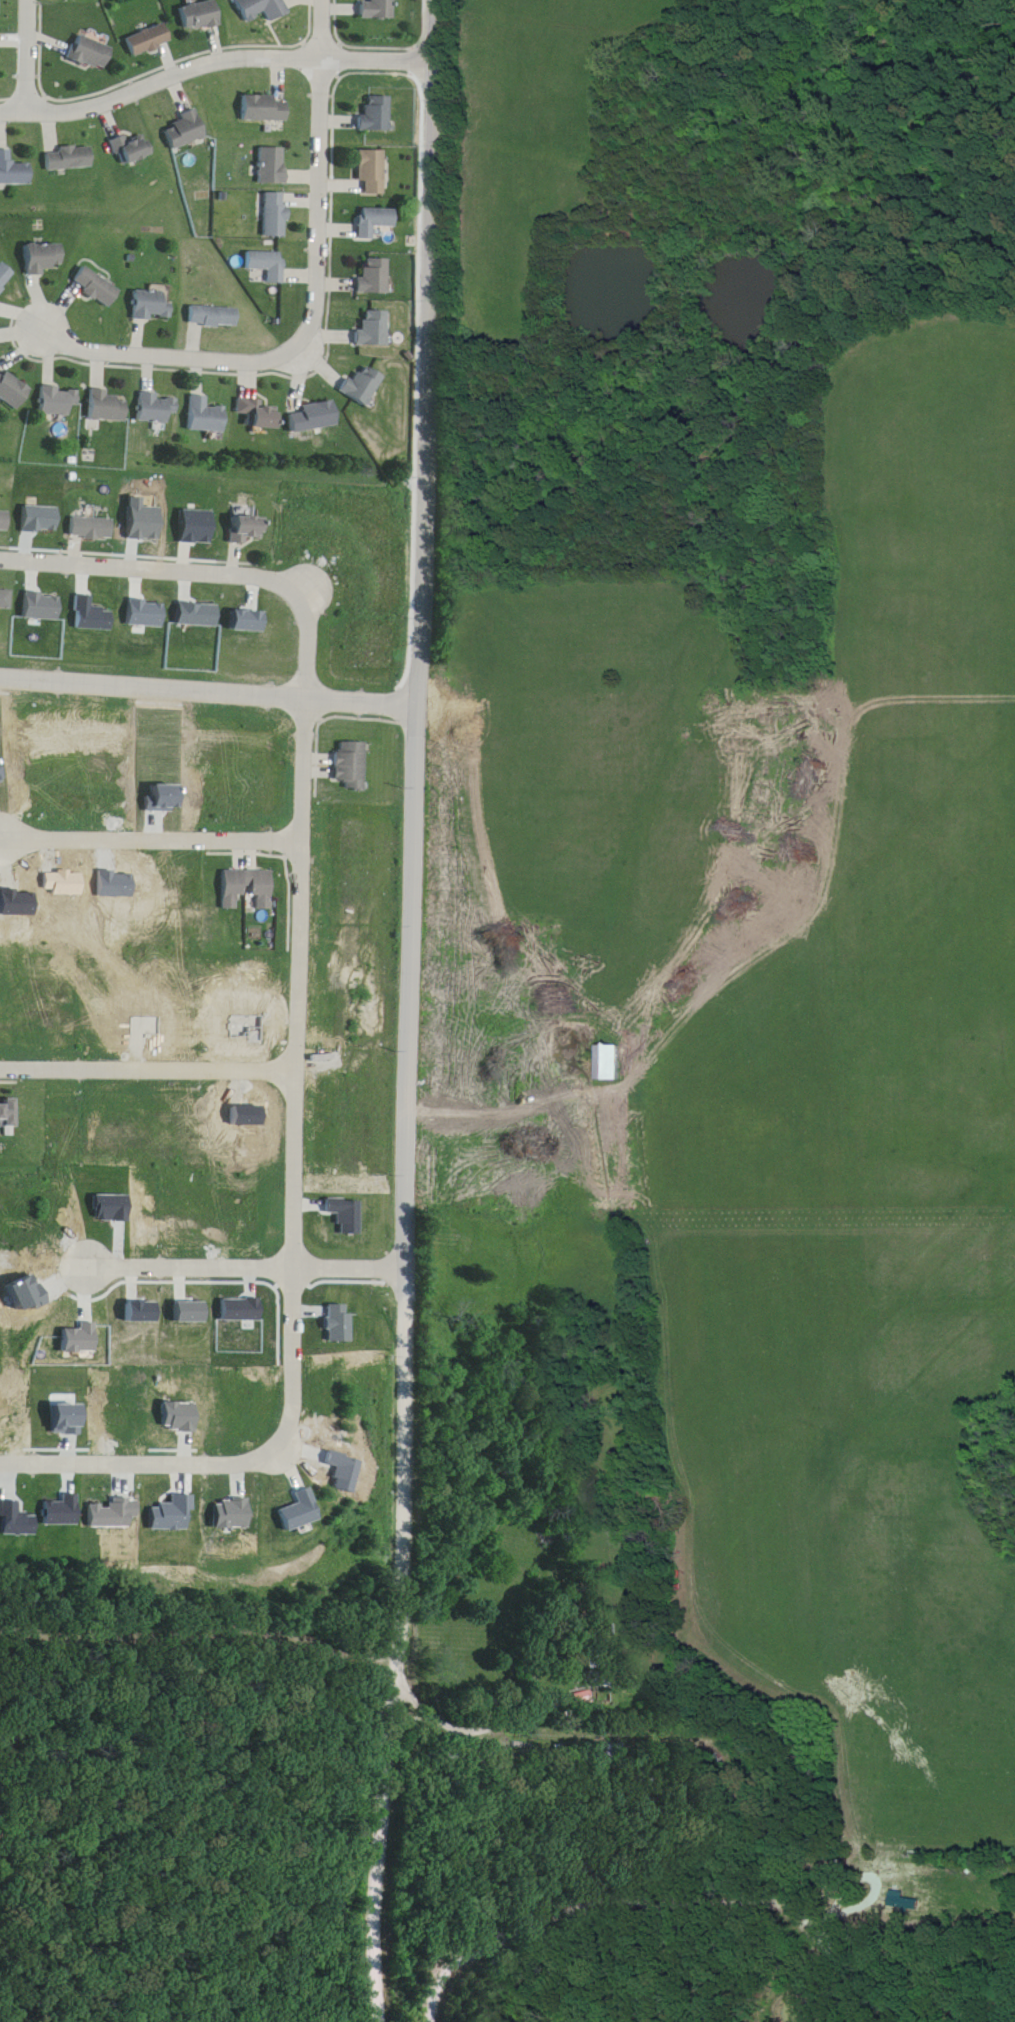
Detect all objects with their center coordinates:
building: (261, 9)
building: (378, 9)
building: (0, 11)
building: (200, 15)
building: (149, 40)
road: (29, 49)
building: (91, 52)
road: (213, 53)
building: (262, 108)
building: (375, 114)
building: (187, 130)
building: (133, 149)
building: (71, 158)
building: (273, 165)
building: (15, 169)
building: (371, 170)
building: (276, 214)
building: (374, 220)
building: (46, 258)
building: (268, 264)
building: (374, 275)
building: (6, 276)
building: (99, 286)
road: (311, 300)
building: (154, 304)
building: (215, 316)
building: (374, 329)
building: (363, 385)
building: (14, 389)
building: (59, 401)
building: (109, 405)
building: (158, 407)
building: (259, 413)
building: (207, 416)
building: (314, 417)
building: (5, 521)
building: (93, 528)
building: (248, 528)
road: (204, 561)
road: (304, 581)
building: (7, 597)
road: (209, 681)
building: (355, 764)
road: (153, 832)
building: (250, 889)
road: (411, 1012)
building: (611, 1061)
road: (151, 1068)
road: (302, 1076)
road: (502, 1108)
building: (9, 1112)
road: (247, 1263)
road: (145, 1463)
road: (170, 1633)
road: (43, 1634)
road: (484, 1719)
building: (901, 1868)
road: (676, 1879)

